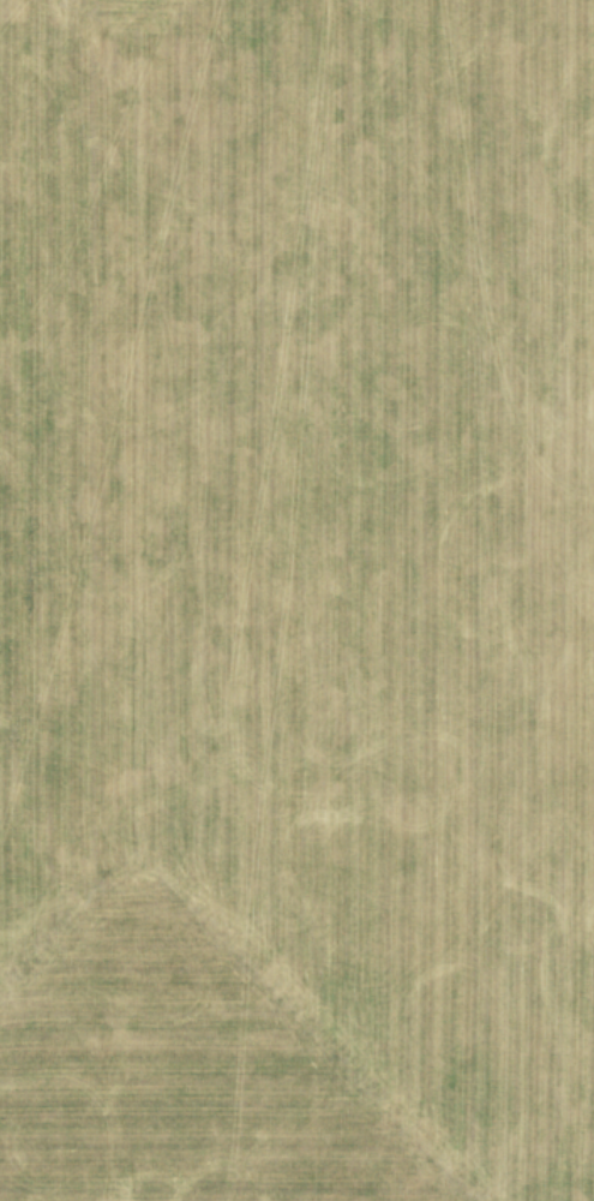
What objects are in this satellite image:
crop: (296, 600)

